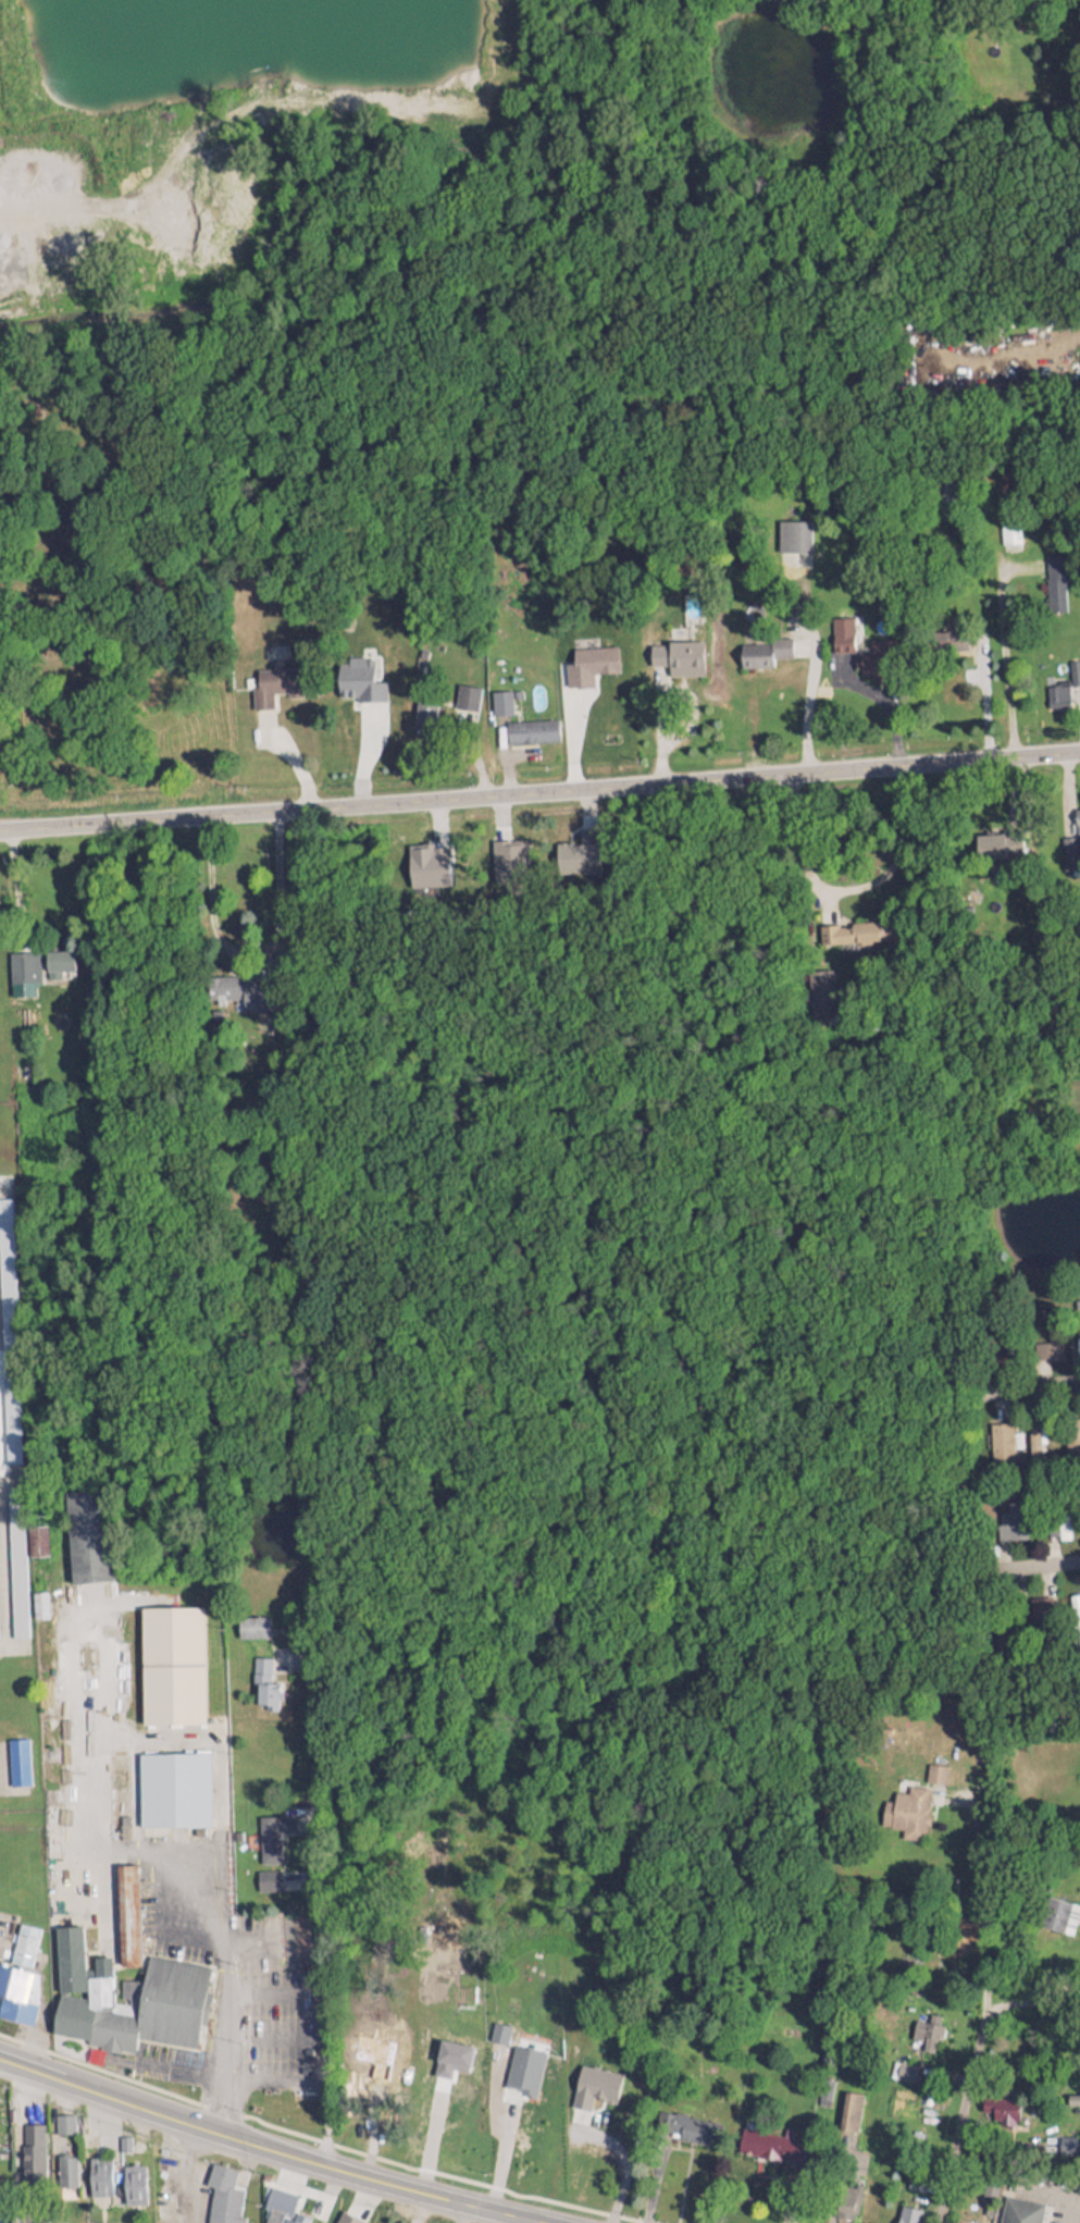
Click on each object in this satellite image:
building: (840, 637)
building: (762, 645)
building: (673, 652)
building: (868, 655)
road: (1000, 664)
building: (506, 695)
building: (469, 696)
road: (800, 711)
building: (531, 725)
road: (539, 792)
building: (985, 839)
road: (851, 887)
road: (248, 948)
building: (57, 956)
road: (1, 1190)
road: (5, 1361)
road: (1033, 1392)
road: (8, 1475)
road: (1039, 1566)
road: (2, 1591)
building: (1039, 1603)
building: (251, 1619)
road: (15, 1645)
building: (170, 1658)
building: (169, 1786)
building: (911, 1798)
road: (973, 1827)
road: (316, 1873)
building: (1054, 1907)
building: (122, 1911)
building: (79, 1969)
building: (17, 1987)
building: (172, 1991)
road: (1035, 2001)
road: (227, 2002)
road: (979, 2036)
building: (1002, 2102)
road: (405, 2128)
building: (87, 2132)
building: (768, 2138)
building: (34, 2144)
road: (269, 2148)
road: (498, 2149)
road: (618, 2161)
building: (65, 2164)
building: (99, 2169)
road: (830, 2185)
road: (791, 2195)
building: (1019, 2207)
building: (346, 2215)

